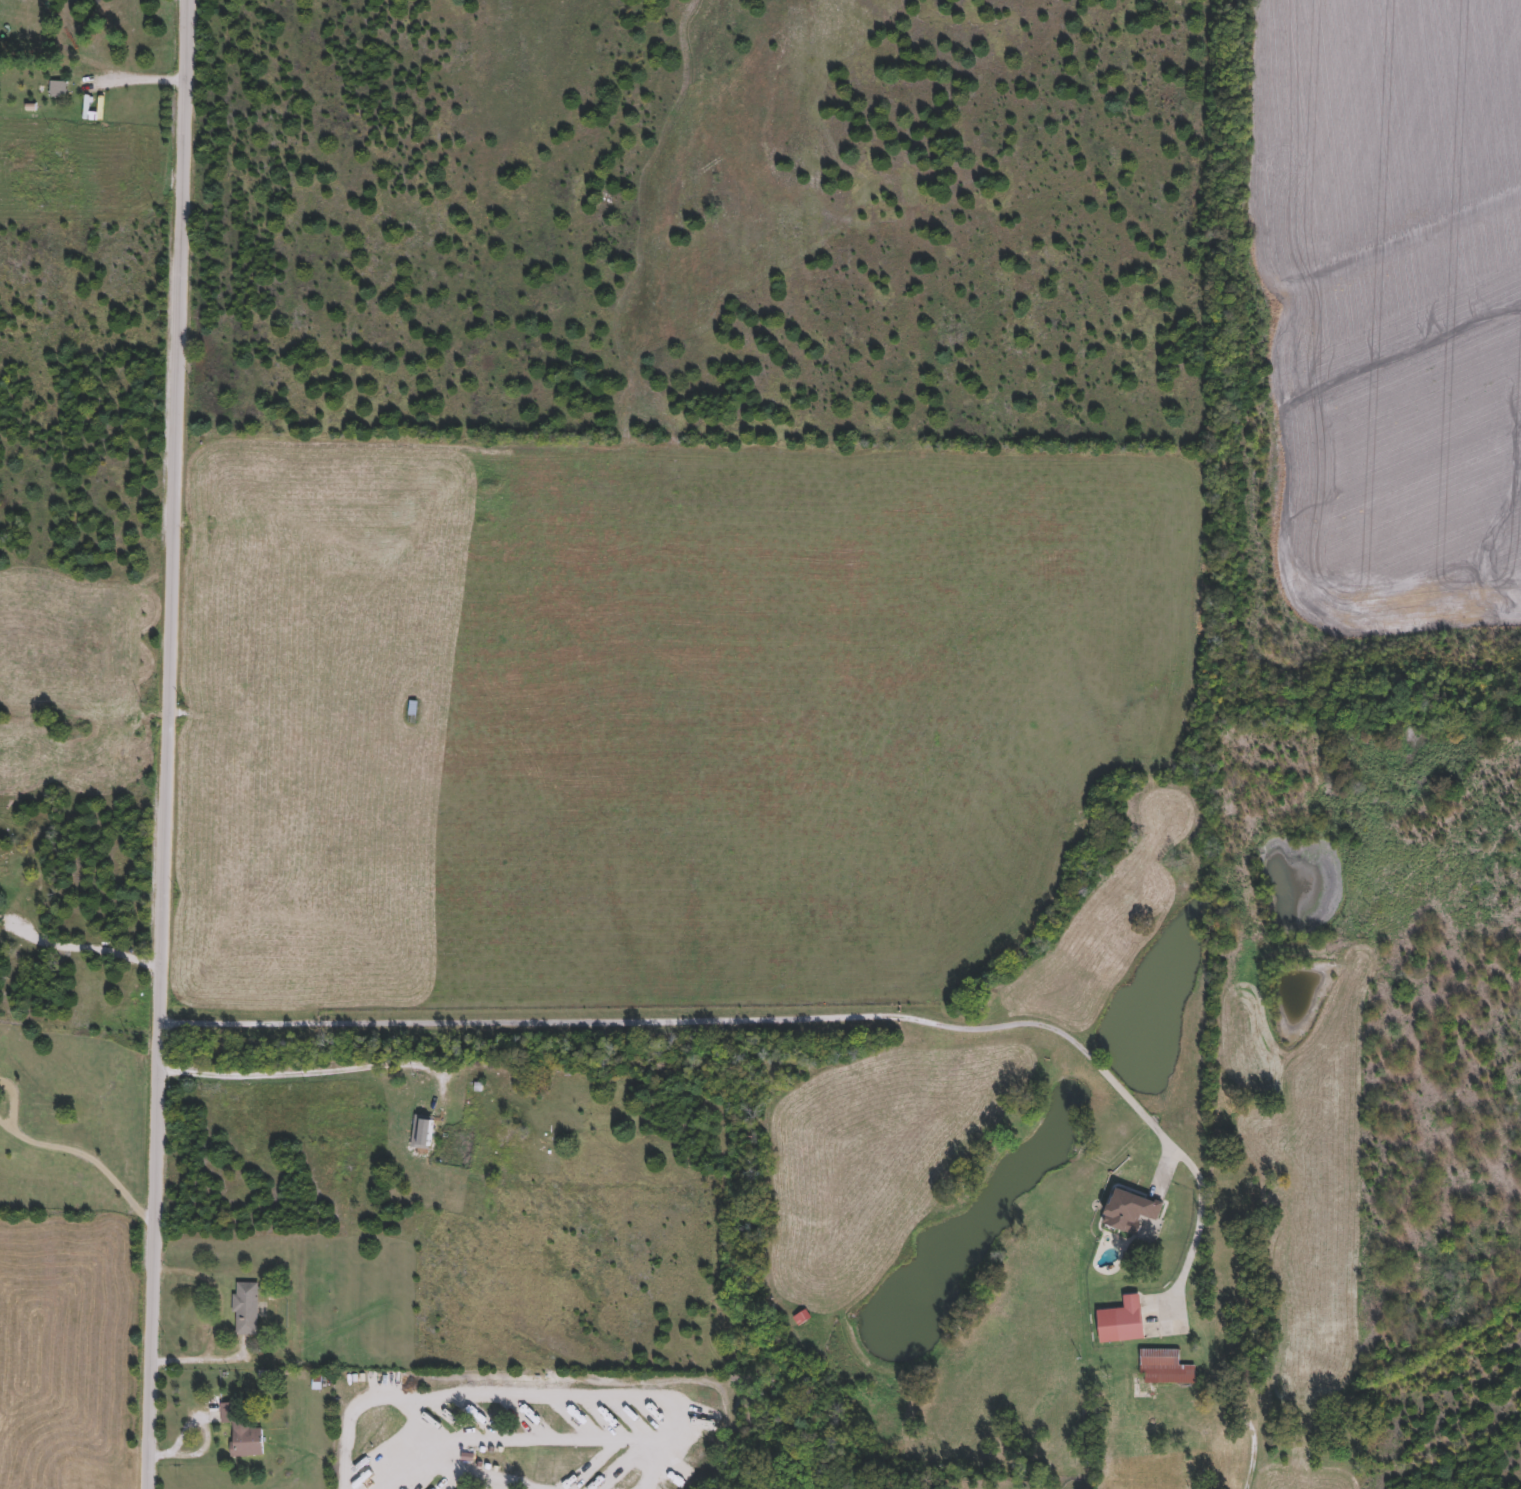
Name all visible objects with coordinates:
road: (139, 79)
building: (56, 90)
building: (411, 710)
road: (168, 744)
road: (86, 948)
road: (746, 1020)
road: (315, 1069)
road: (13, 1102)
road: (6, 1125)
building: (421, 1133)
building: (503, 1136)
road: (95, 1159)
building: (1127, 1212)
building: (245, 1309)
building: (1120, 1322)
road: (201, 1358)
building: (1163, 1368)
road: (564, 1388)
building: (239, 1433)
road: (544, 1433)
road: (1252, 1446)
building: (485, 1449)

